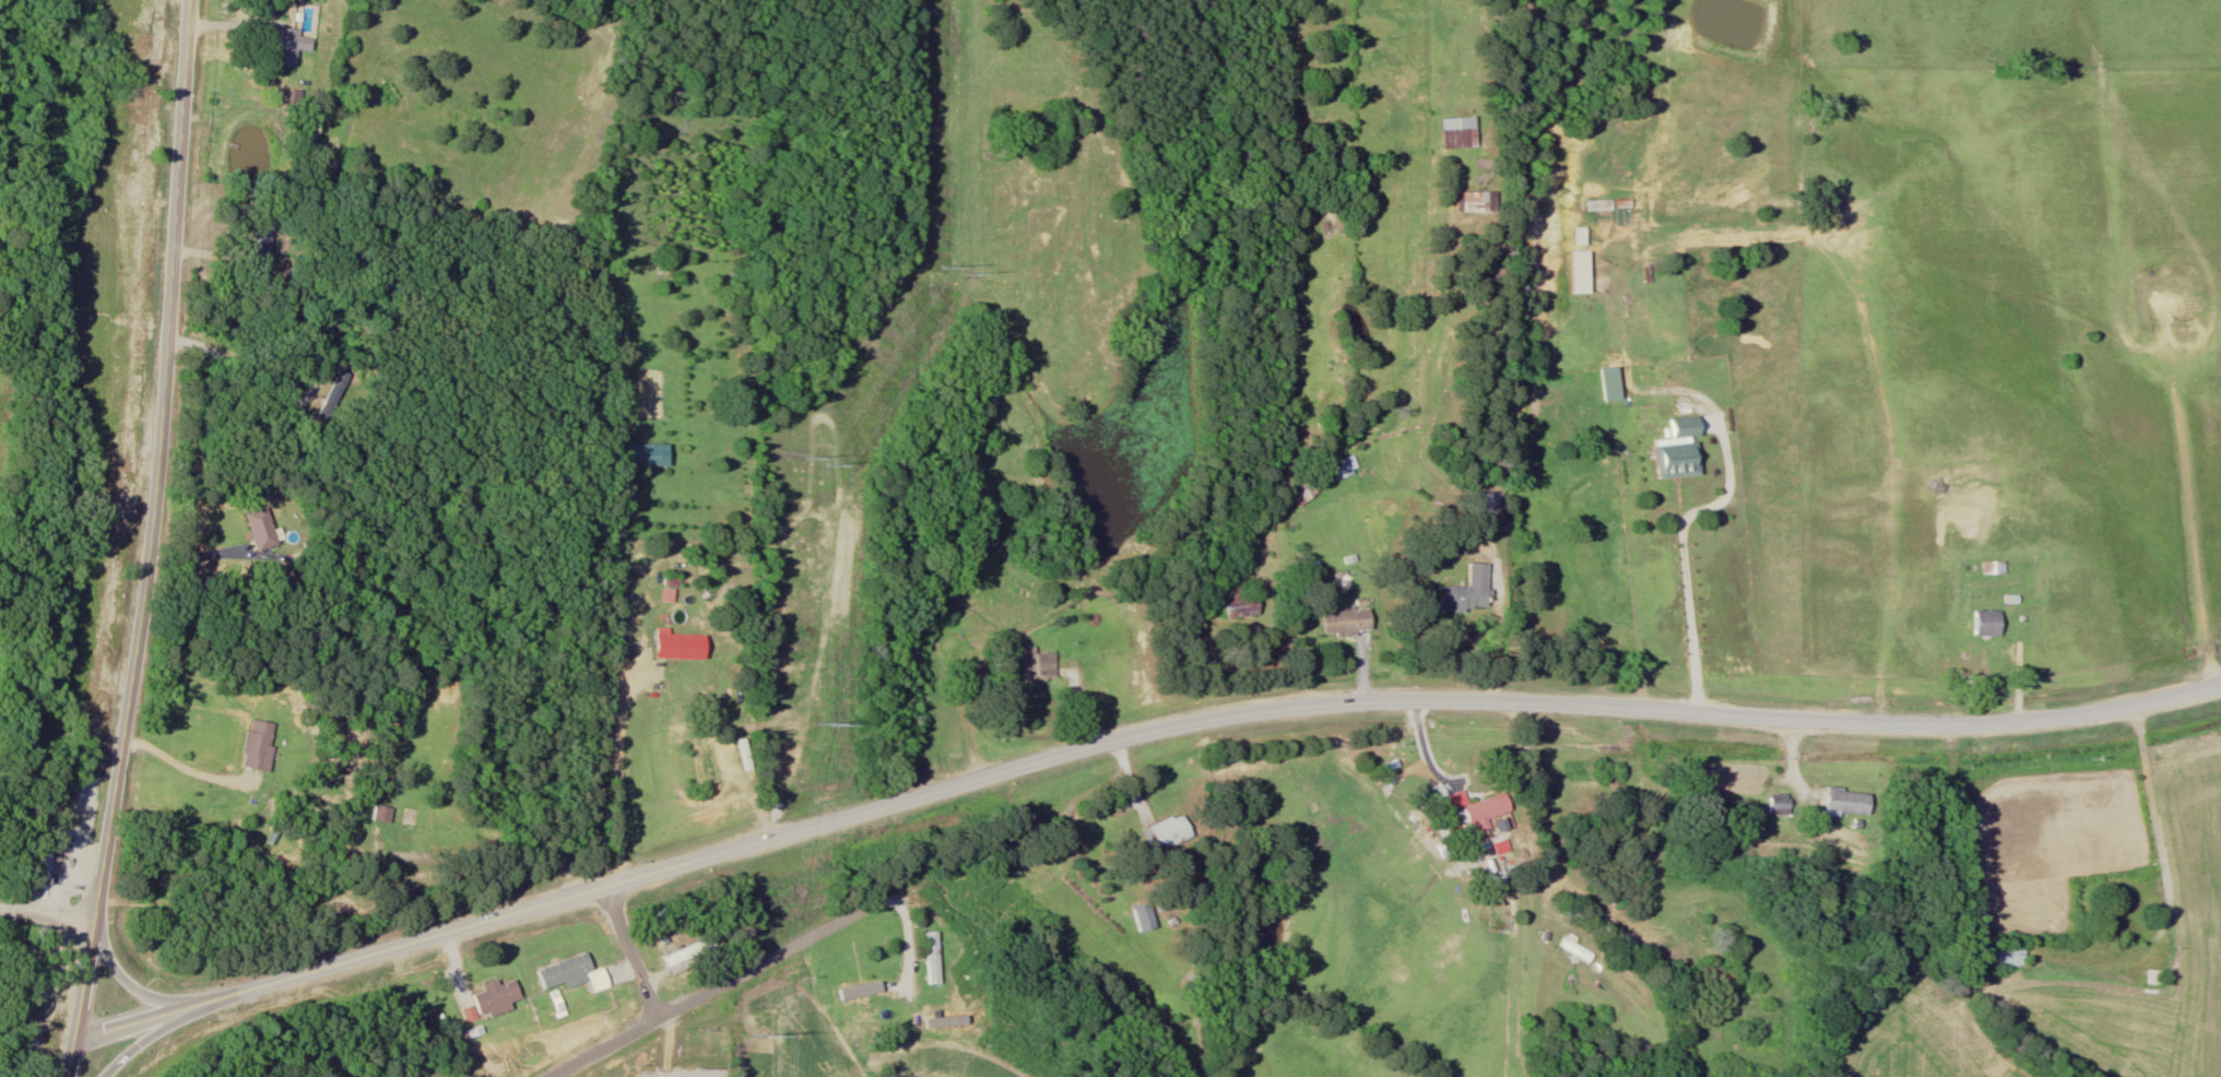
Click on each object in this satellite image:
road: (466, 15)
building: (293, 47)
building: (1451, 134)
building: (1469, 201)
building: (264, 247)
building: (1576, 265)
building: (1605, 376)
building: (342, 390)
building: (1671, 450)
building: (640, 454)
building: (1339, 468)
building: (1302, 493)
building: (1488, 504)
building: (265, 529)
road: (151, 541)
building: (1990, 568)
building: (1458, 593)
building: (1226, 603)
building: (1338, 623)
building: (1982, 624)
building: (684, 646)
road: (1151, 664)
building: (1028, 665)
road: (1129, 737)
building: (261, 745)
building: (1844, 802)
building: (1776, 805)
building: (1478, 813)
building: (398, 828)
building: (1158, 835)
building: (62, 840)
building: (47, 861)
road: (1582, 862)
road: (353, 875)
road: (47, 914)
building: (1139, 918)
building: (1571, 950)
road: (631, 951)
building: (695, 955)
building: (2006, 956)
building: (928, 958)
building: (576, 974)
building: (1711, 977)
road: (123, 978)
building: (2154, 978)
road: (711, 991)
building: (496, 1001)
building: (856, 1004)
road: (129, 1038)

